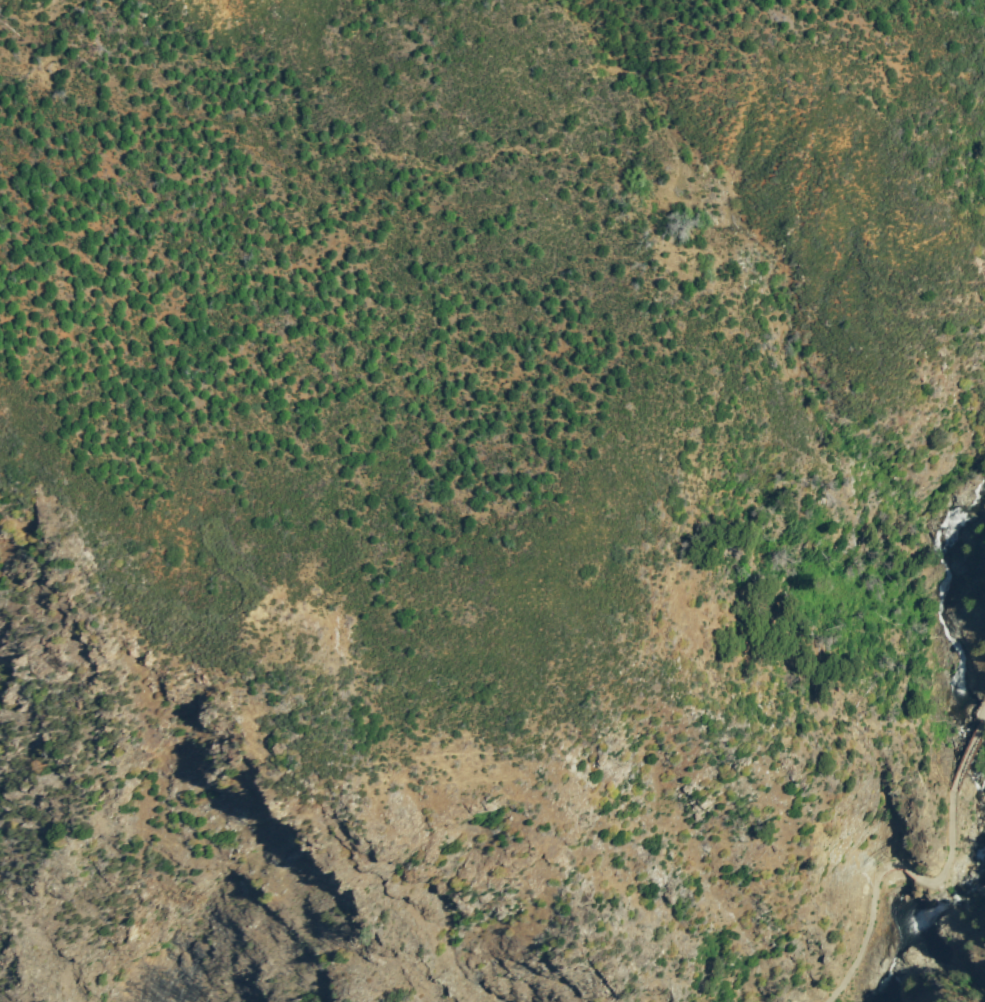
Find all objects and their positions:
river: (962, 663)
road: (972, 757)
river: (984, 852)
road: (896, 870)
river: (951, 927)

